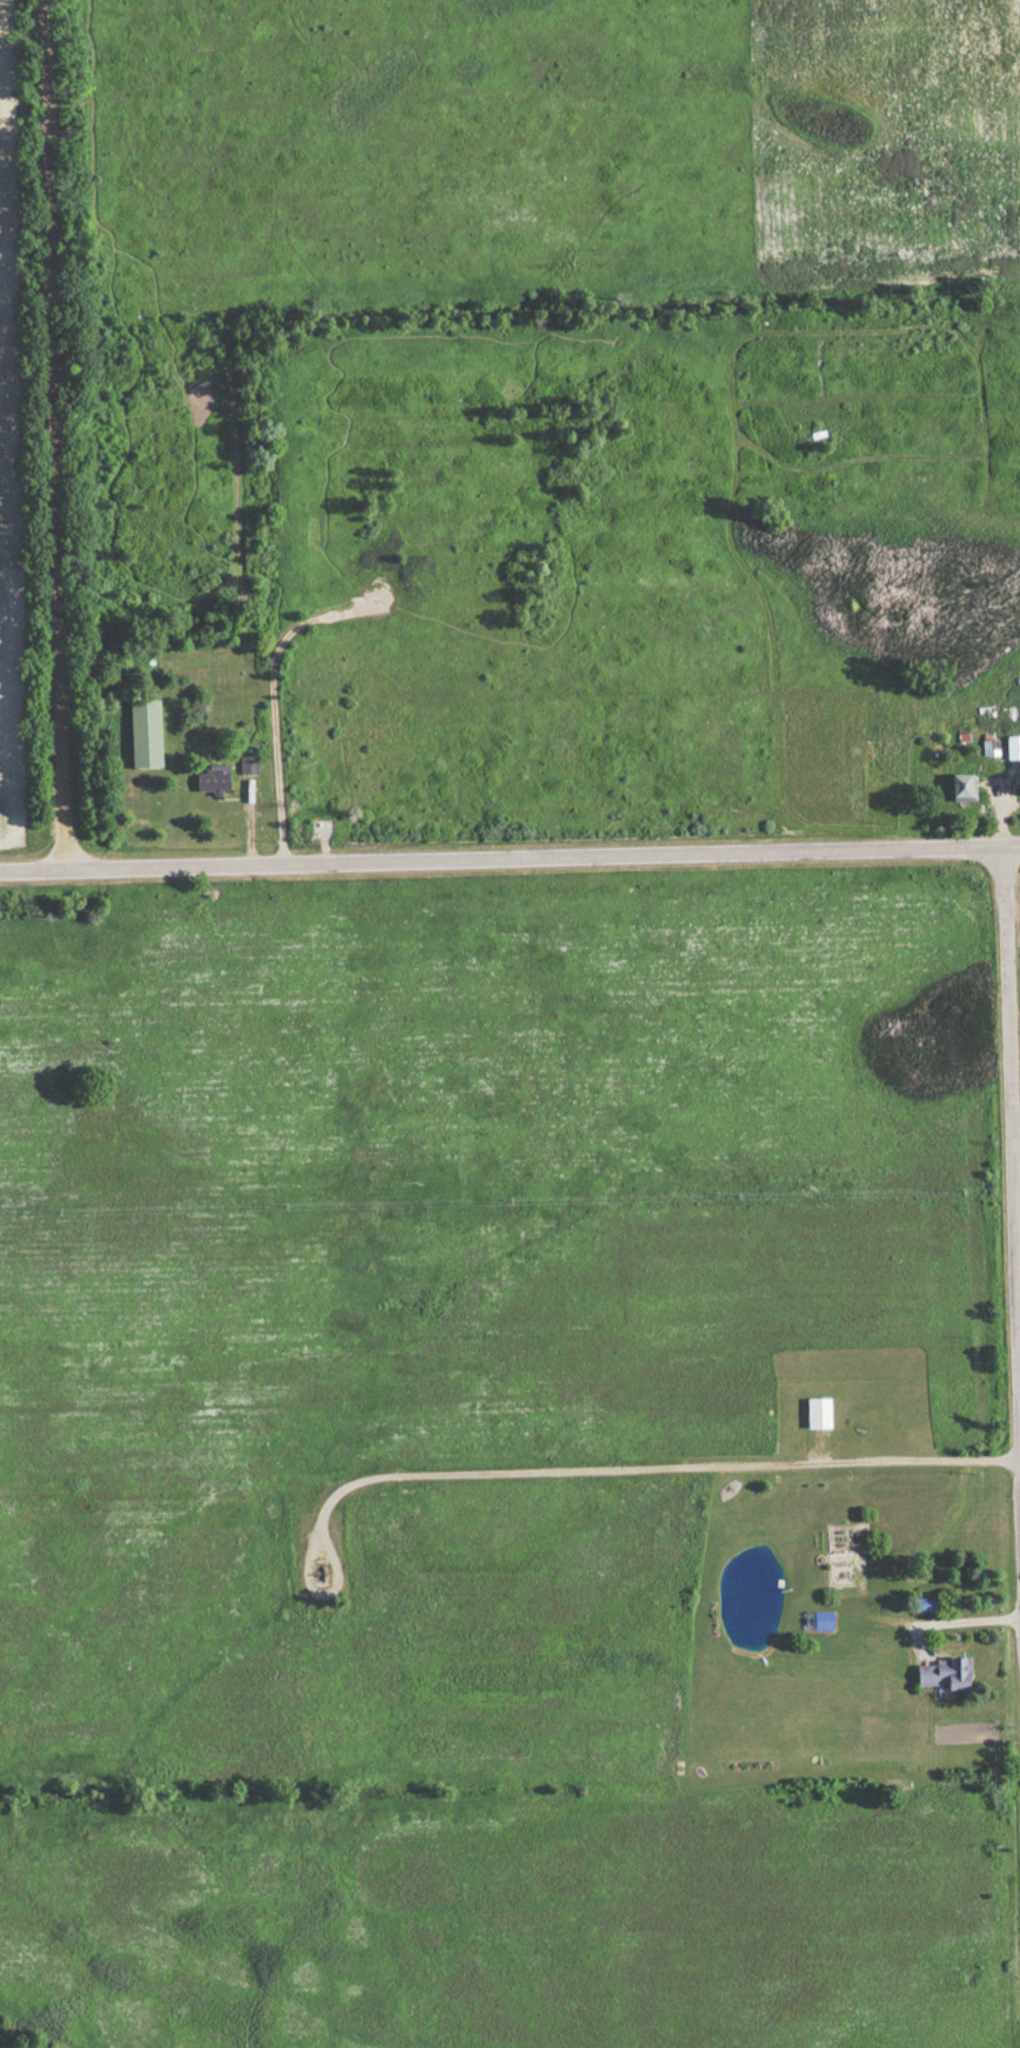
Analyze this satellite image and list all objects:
road: (54, 433)
road: (274, 709)
building: (142, 733)
building: (988, 747)
building: (247, 763)
building: (211, 778)
building: (959, 786)
road: (509, 860)
road: (1012, 1072)
building: (816, 1413)
road: (653, 1466)
petroleum well: (320, 1570)
building: (943, 1673)

